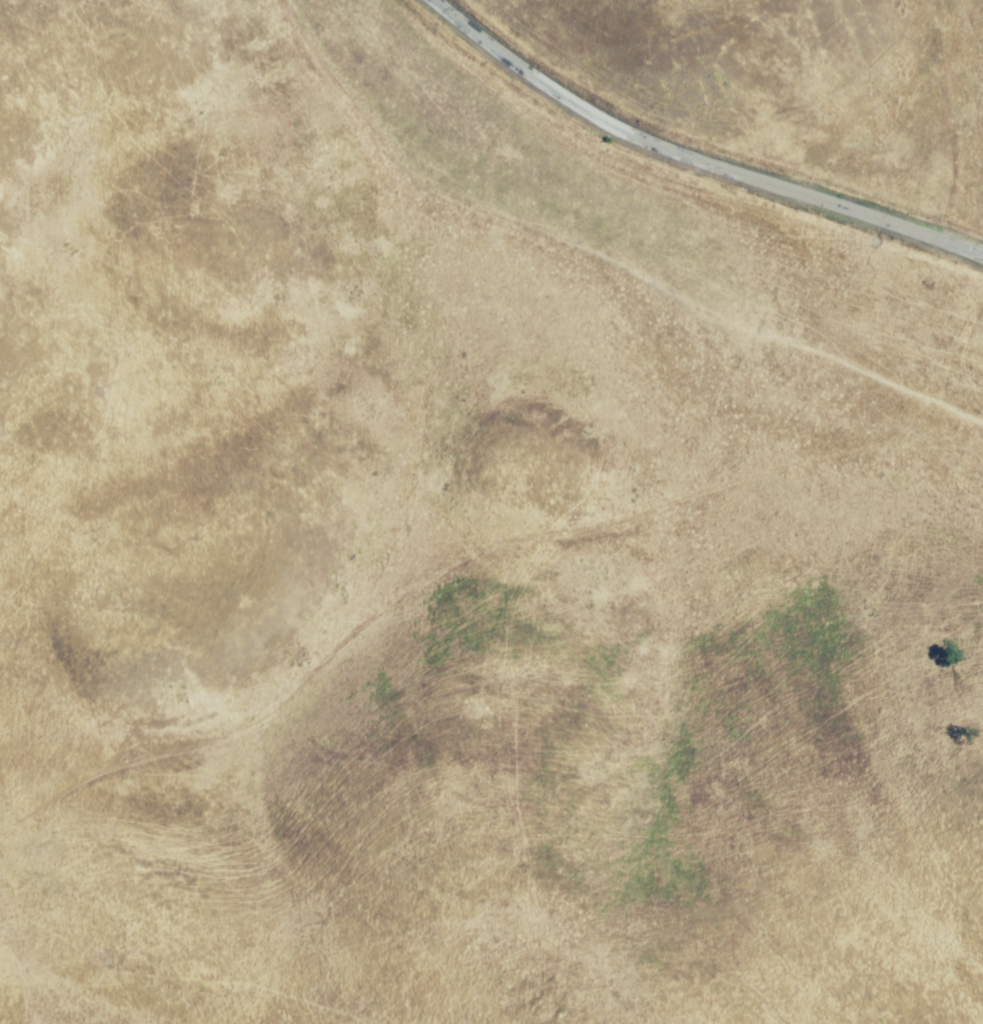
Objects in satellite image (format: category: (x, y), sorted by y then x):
road: (686, 164)

